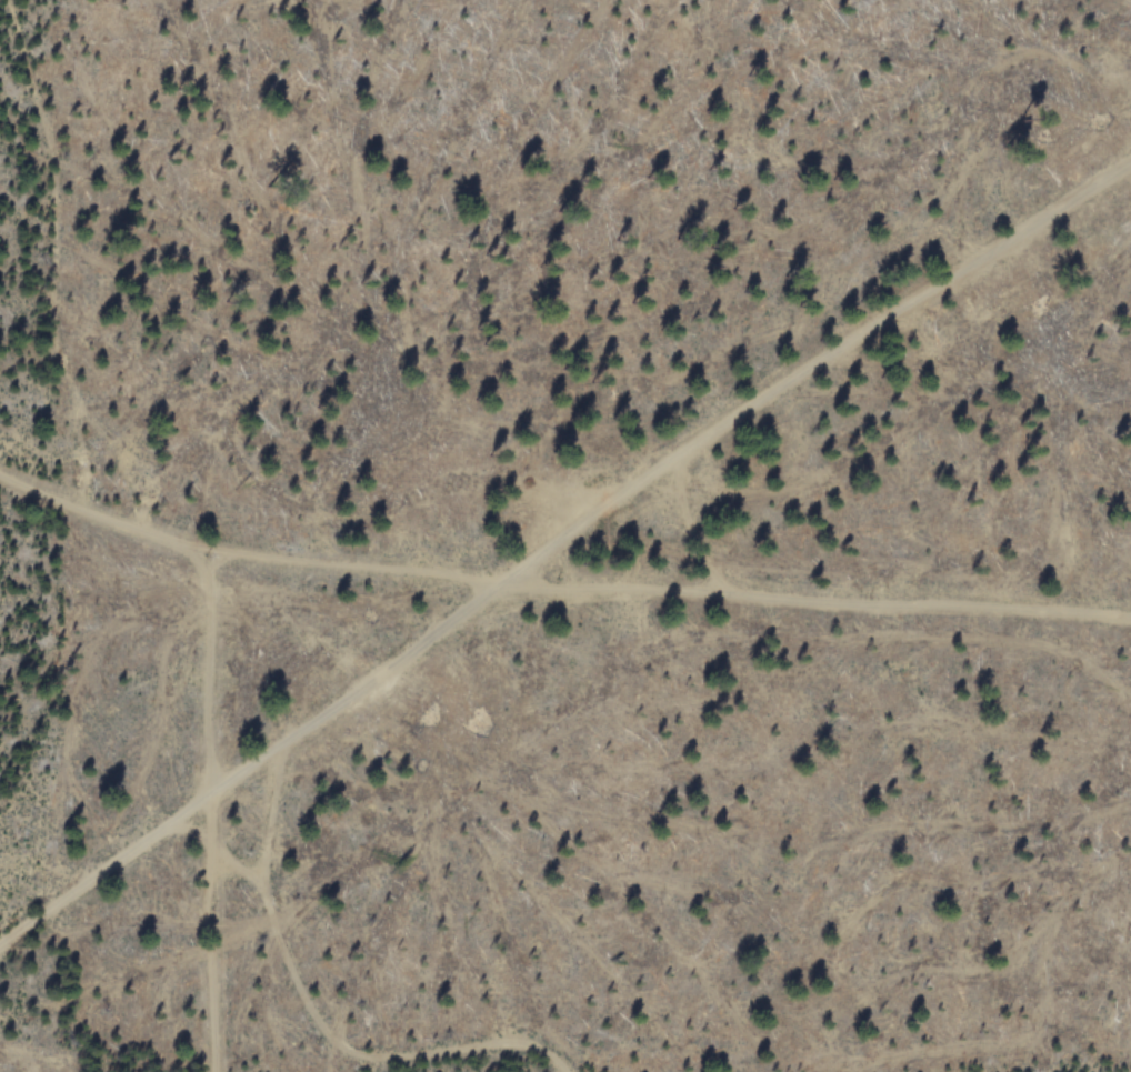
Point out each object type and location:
road: (59, 251)
road: (565, 551)
road: (558, 590)
road: (210, 814)
road: (343, 1044)

